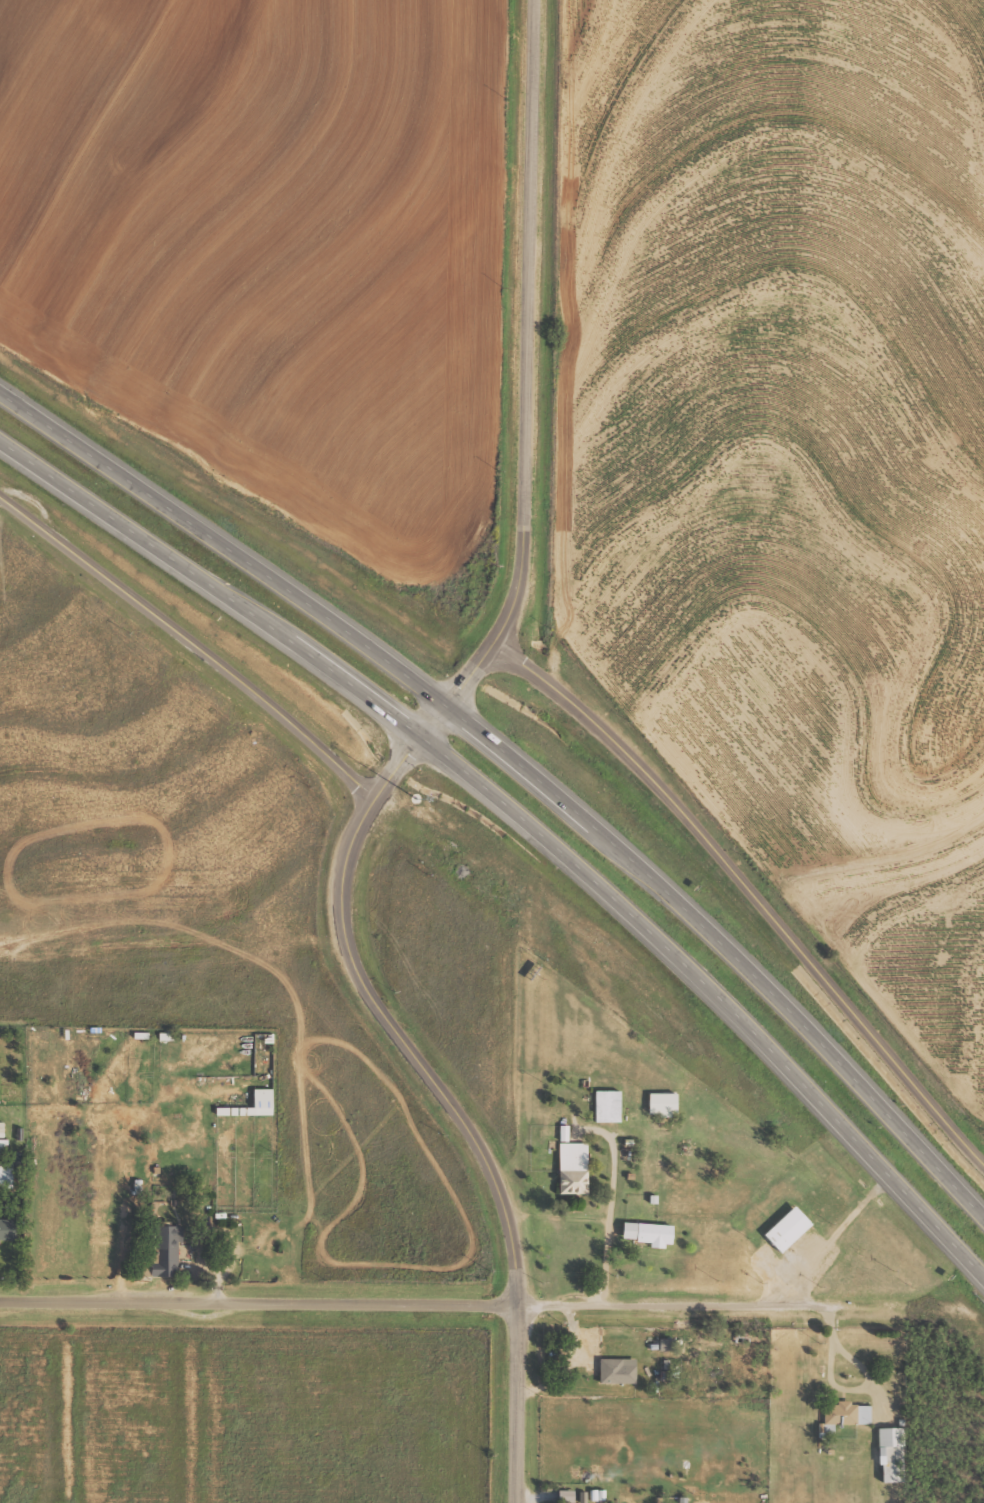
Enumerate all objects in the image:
road: (529, 361)
road: (226, 545)
road: (215, 583)
road: (192, 642)
road: (751, 893)
road: (729, 945)
road: (716, 991)
road: (377, 1006)
building: (266, 1098)
building: (666, 1104)
building: (610, 1106)
building: (575, 1165)
building: (6, 1174)
road: (609, 1225)
building: (8, 1229)
building: (791, 1229)
building: (653, 1234)
building: (169, 1252)
road: (258, 1301)
road: (671, 1308)
building: (620, 1371)
road: (516, 1405)
building: (849, 1412)
building: (894, 1453)

